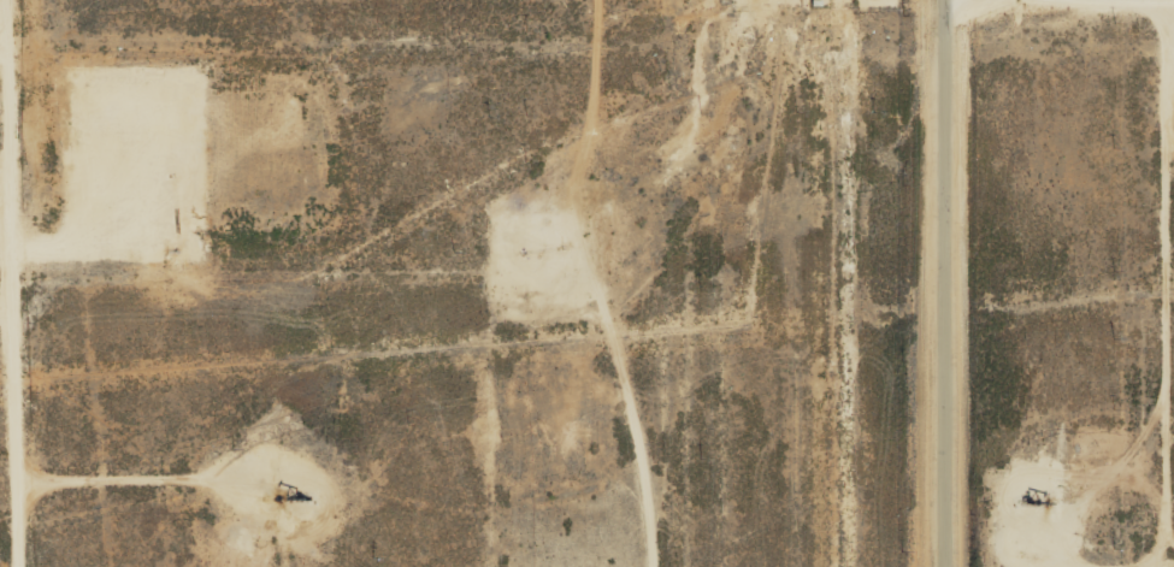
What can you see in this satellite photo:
river: (766, 185)
road: (17, 283)
road: (937, 283)
road: (604, 288)

